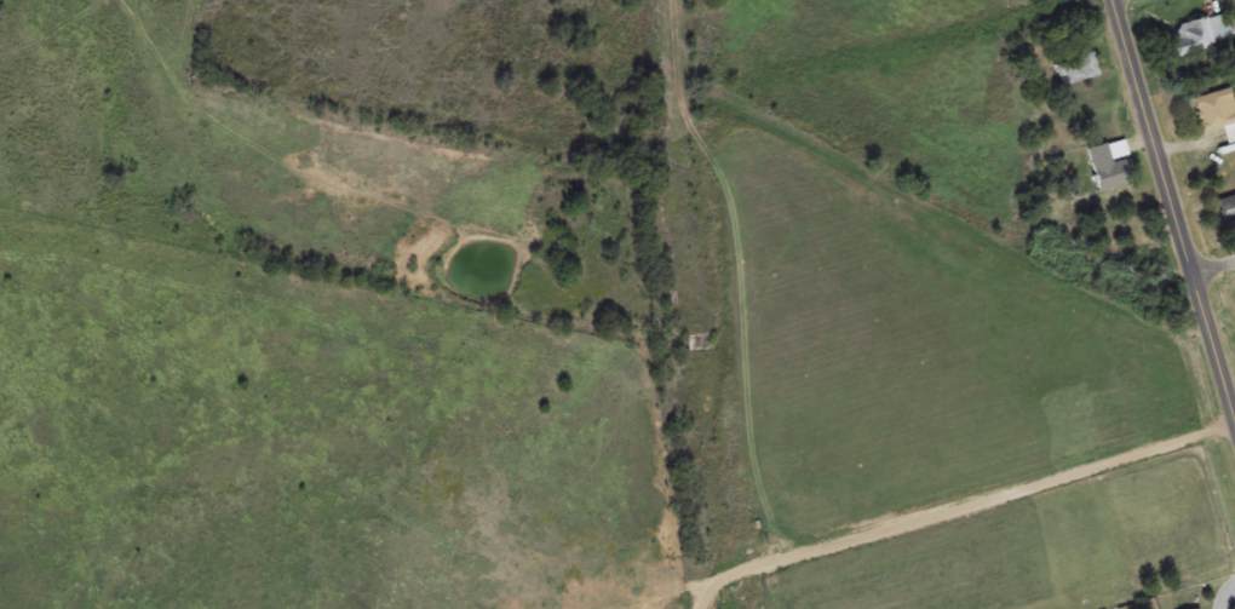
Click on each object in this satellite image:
road: (1127, 2)
building: (1201, 36)
building: (1075, 71)
building: (1216, 116)
road: (1159, 138)
building: (1108, 167)
building: (1225, 212)
road: (1218, 270)
railway: (703, 304)
road: (1218, 351)
road: (934, 523)
road: (841, 587)
road: (1230, 598)

